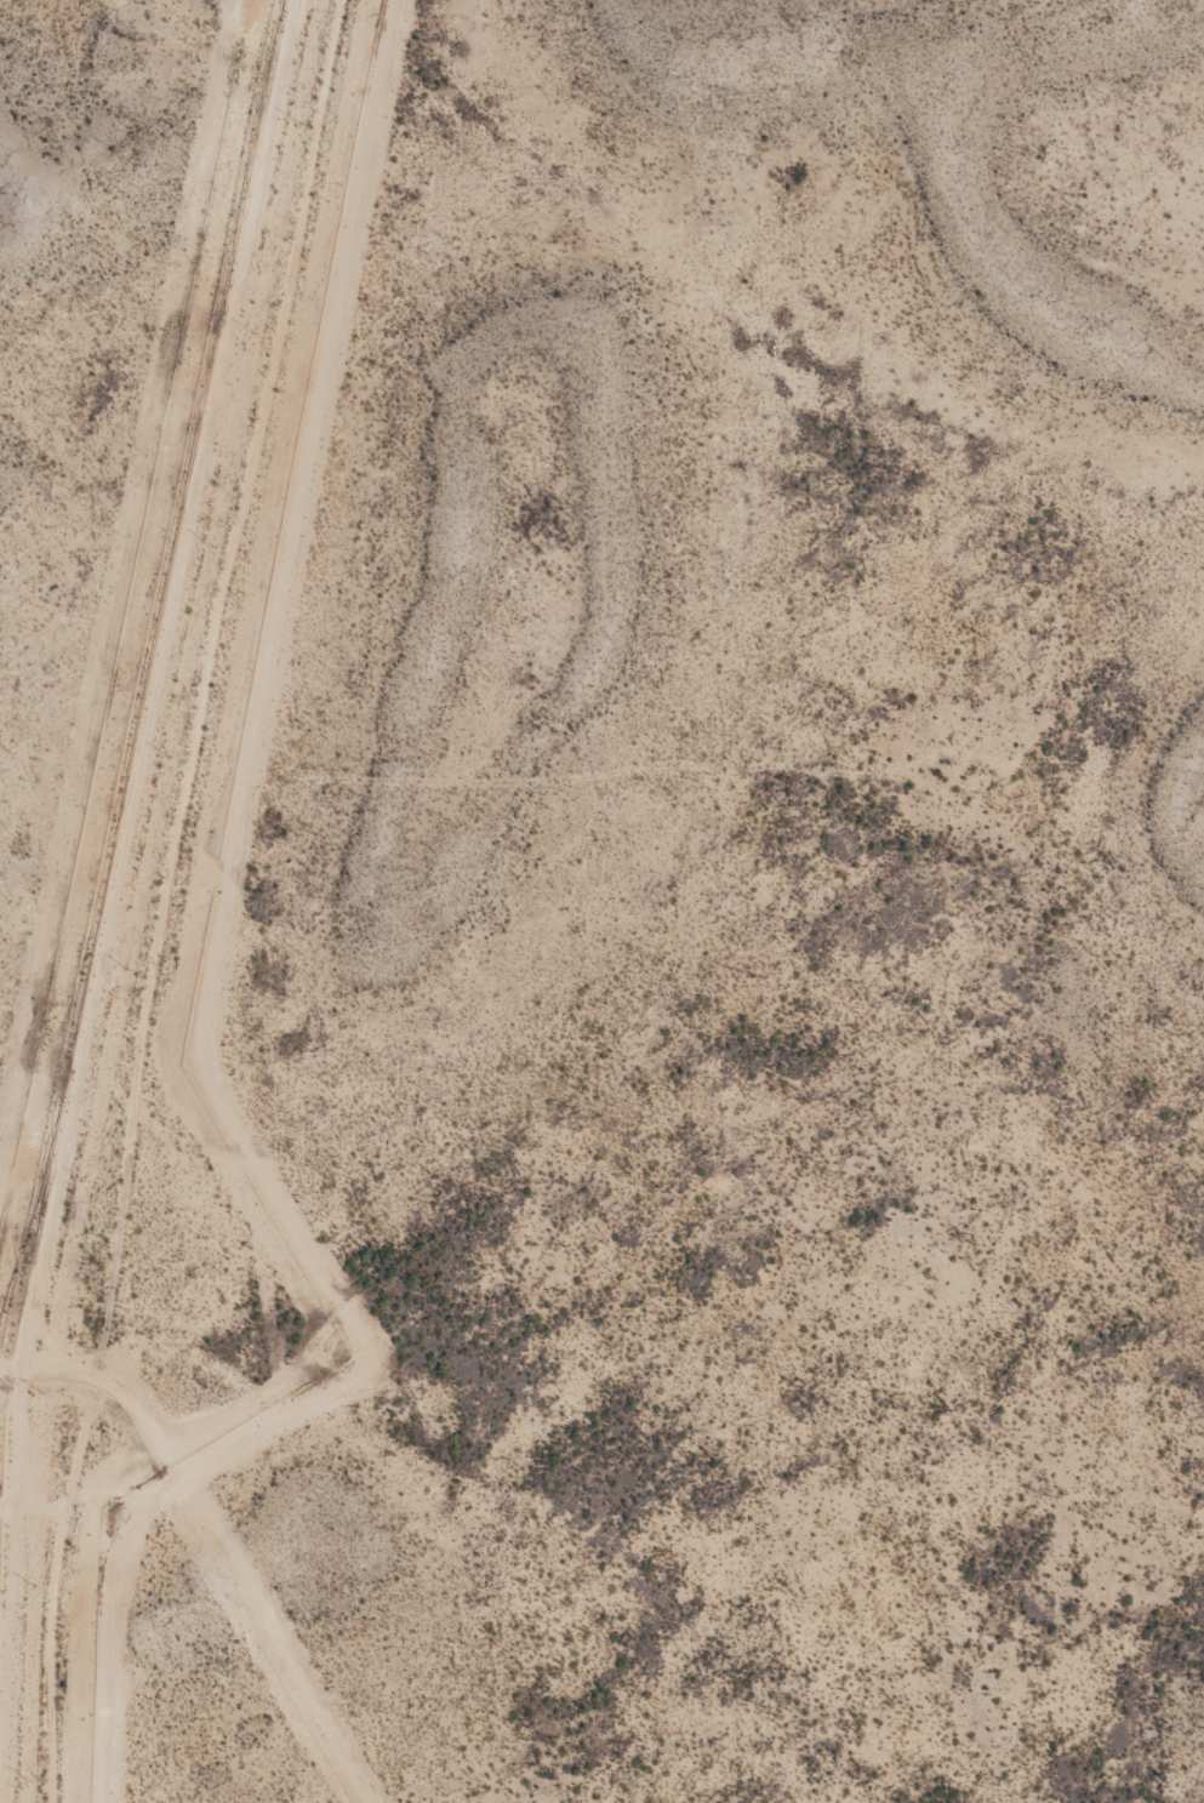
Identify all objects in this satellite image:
road: (156, 894)

